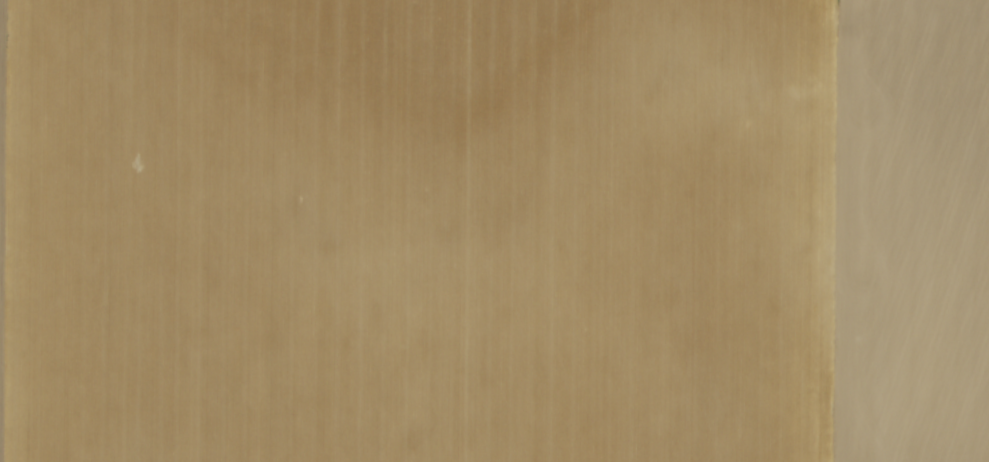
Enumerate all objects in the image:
crop: (494, 231)

